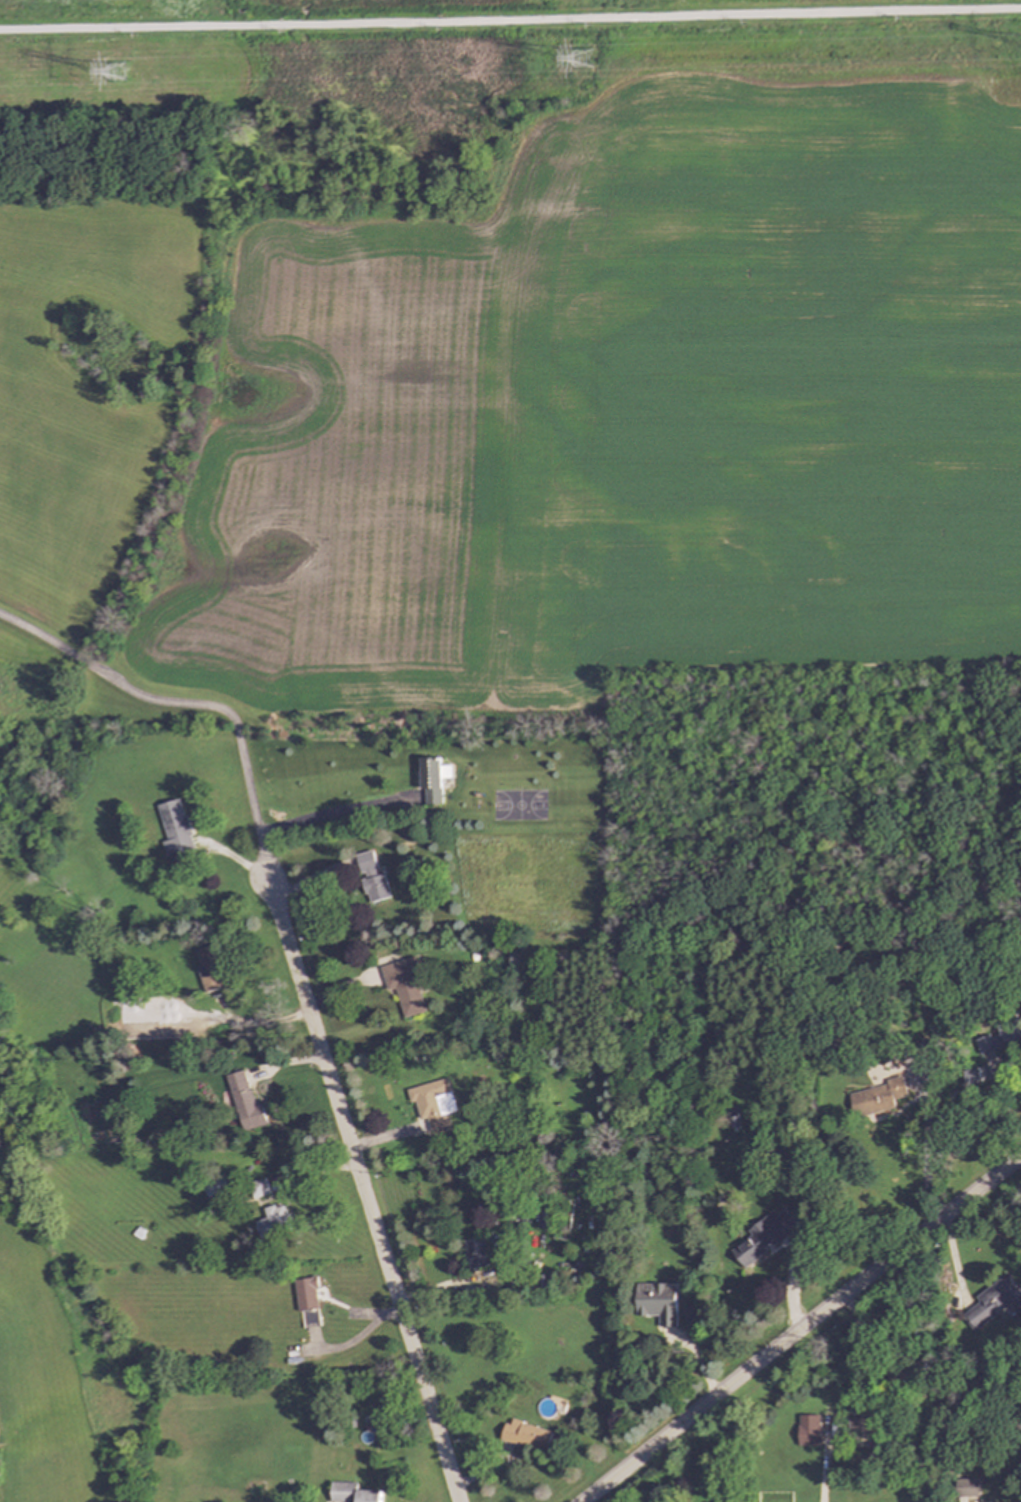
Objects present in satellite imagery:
road: (510, 20)
power tower: (577, 62)
power tower: (116, 75)
crop: (68, 409)
crop: (612, 420)
road: (190, 702)
building: (433, 780)
road: (327, 813)
building: (178, 833)
building: (373, 877)
building: (212, 969)
building: (406, 985)
building: (1001, 1036)
building: (971, 1076)
building: (877, 1098)
building: (246, 1100)
building: (433, 1103)
road: (925, 1162)
building: (219, 1187)
building: (259, 1188)
road: (362, 1190)
building: (544, 1219)
building: (275, 1220)
building: (764, 1236)
building: (476, 1253)
building: (308, 1294)
building: (995, 1302)
building: (658, 1303)
building: (692, 1315)
building: (311, 1319)
road: (801, 1330)
road: (864, 1359)
building: (809, 1430)
building: (860, 1432)
building: (527, 1435)
building: (969, 1490)
building: (353, 1493)

